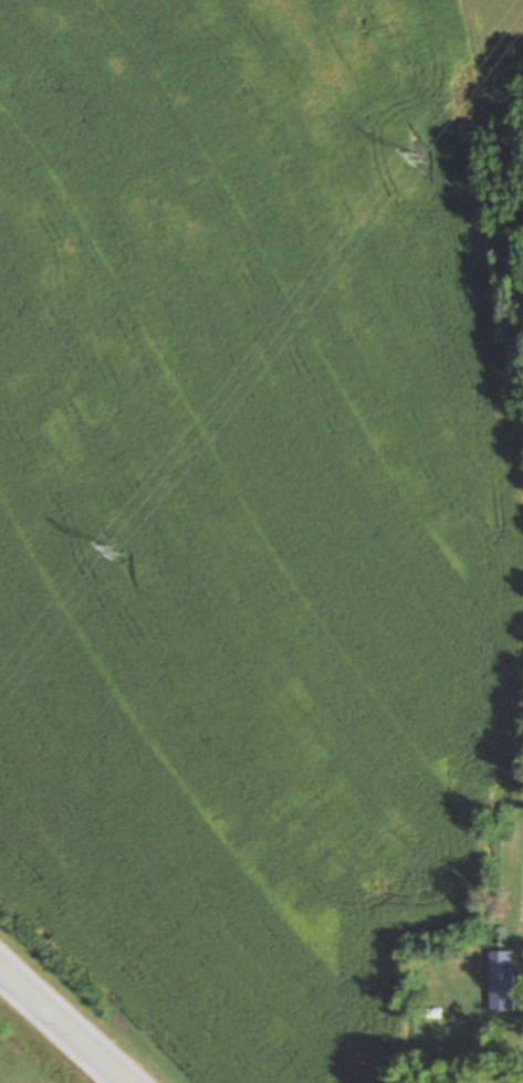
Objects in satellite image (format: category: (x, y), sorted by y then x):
power tower: (423, 155)
power tower: (121, 550)
building: (503, 971)
road: (64, 1024)

